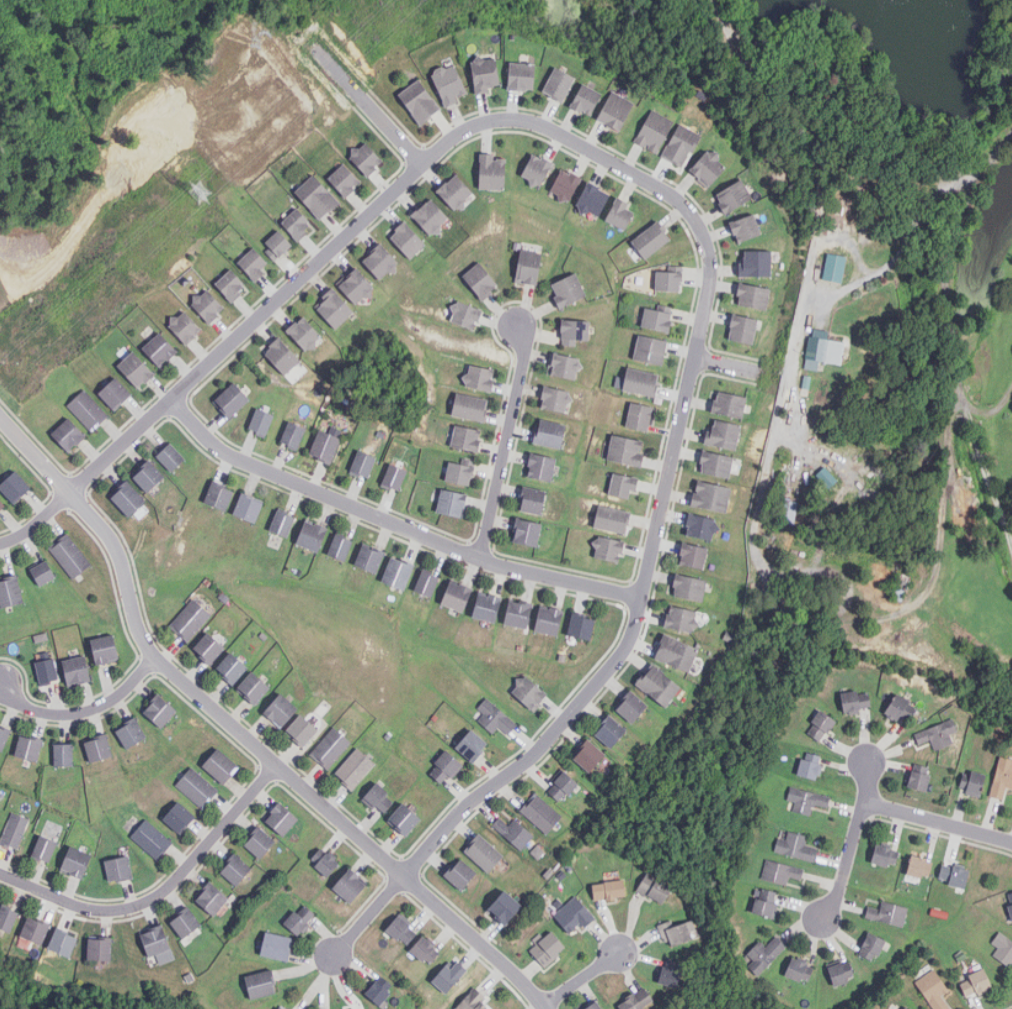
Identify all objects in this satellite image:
building: (483, 72)
building: (521, 76)
building: (449, 83)
building: (559, 83)
building: (586, 99)
road: (366, 100)
road: (867, 100)
building: (419, 101)
building: (615, 110)
building: (654, 131)
building: (681, 145)
building: (365, 158)
building: (708, 168)
building: (537, 169)
building: (492, 171)
building: (344, 179)
building: (565, 184)
building: (455, 192)
power tower: (196, 195)
building: (316, 196)
building: (733, 196)
building: (593, 199)
road: (381, 201)
building: (619, 213)
building: (430, 217)
building: (297, 223)
building: (745, 227)
building: (651, 239)
building: (407, 240)
building: (276, 244)
building: (380, 261)
building: (253, 263)
building: (755, 263)
road: (887, 263)
building: (528, 265)
building: (834, 267)
building: (480, 280)
building: (668, 280)
building: (231, 285)
building: (356, 286)
building: (568, 289)
building: (753, 295)
building: (207, 305)
building: (333, 308)
building: (465, 314)
building: (655, 319)
road: (949, 320)
building: (184, 327)
building: (743, 329)
building: (574, 331)
building: (303, 333)
building: (159, 349)
building: (823, 349)
building: (650, 350)
building: (281, 355)
building: (565, 366)
road: (737, 366)
building: (135, 370)
building: (479, 377)
building: (641, 382)
building: (114, 393)
building: (556, 399)
building: (231, 400)
building: (729, 404)
building: (470, 406)
building: (87, 410)
building: (639, 416)
building: (261, 422)
building: (549, 432)
building: (68, 434)
building: (292, 434)
building: (722, 434)
building: (466, 438)
road: (505, 440)
building: (324, 446)
building: (625, 450)
building: (170, 456)
building: (716, 463)
building: (362, 464)
building: (540, 466)
building: (459, 472)
building: (147, 476)
building: (394, 477)
building: (826, 477)
building: (622, 485)
building: (14, 486)
building: (218, 495)
building: (711, 495)
building: (127, 498)
building: (532, 500)
building: (451, 502)
building: (1, 504)
building: (247, 507)
building: (612, 519)
road: (394, 522)
building: (282, 523)
building: (701, 526)
building: (527, 531)
building: (311, 535)
building: (339, 546)
building: (608, 548)
building: (70, 555)
building: (692, 555)
building: (369, 558)
building: (397, 572)
building: (42, 573)
building: (426, 583)
building: (689, 587)
building: (10, 591)
building: (456, 595)
building: (486, 607)
building: (518, 613)
building: (681, 618)
building: (190, 620)
building: (548, 620)
building: (581, 625)
building: (208, 647)
building: (104, 648)
building: (676, 653)
building: (231, 667)
building: (47, 670)
building: (76, 670)
building: (658, 685)
building: (253, 687)
building: (529, 692)
road: (587, 695)
building: (855, 701)
building: (631, 706)
building: (900, 708)
road: (83, 710)
building: (159, 710)
building: (280, 710)
building: (494, 717)
building: (821, 725)
building: (301, 730)
building: (610, 731)
building: (130, 733)
building: (938, 734)
road: (244, 735)
building: (3, 736)
building: (471, 745)
building: (28, 747)
building: (97, 747)
building: (330, 747)
building: (63, 754)
building: (589, 755)
building: (220, 766)
building: (809, 766)
building: (444, 767)
building: (354, 768)
building: (919, 777)
building: (1002, 778)
building: (975, 783)
building: (562, 786)
building: (197, 787)
building: (379, 799)
building: (806, 800)
building: (541, 813)
building: (178, 818)
building: (281, 819)
building: (404, 819)
road: (937, 823)
building: (14, 830)
building: (514, 832)
building: (152, 839)
road: (852, 841)
building: (259, 843)
building: (795, 847)
building: (43, 848)
building: (483, 853)
building: (885, 856)
building: (325, 862)
building: (75, 863)
building: (919, 867)
building: (118, 869)
building: (235, 870)
building: (781, 872)
building: (460, 874)
building: (954, 876)
building: (349, 885)
building: (654, 888)
building: (608, 890)
road: (161, 892)
building: (211, 900)
building: (765, 902)
building: (1011, 905)
building: (504, 908)
building: (888, 913)
building: (573, 916)
building: (7, 919)
building: (300, 919)
building: (185, 923)
building: (34, 930)
building: (402, 930)
building: (678, 933)
building: (154, 941)
building: (63, 942)
building: (276, 947)
building: (871, 947)
building: (546, 949)
building: (1003, 949)
building: (99, 950)
building: (425, 951)
building: (765, 954)
building: (799, 971)
building: (671, 973)
building: (840, 974)
building: (449, 976)
road: (582, 977)
building: (975, 983)
building: (261, 985)
building: (933, 989)
building: (377, 993)
building: (637, 1000)
building: (473, 1001)
building: (594, 1006)
building: (281, 1008)
building: (903, 1008)
building: (907, 1008)

